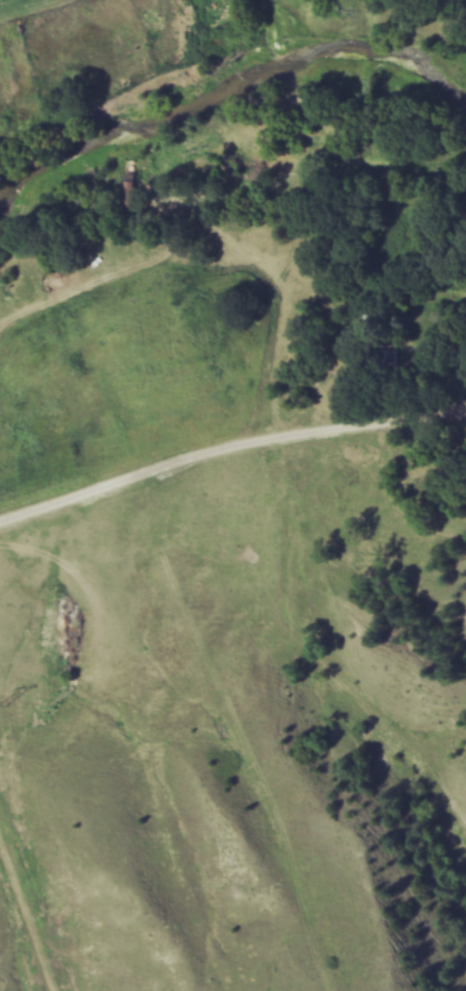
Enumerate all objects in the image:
building: (387, 359)
road: (228, 451)
power tower: (7, 705)

